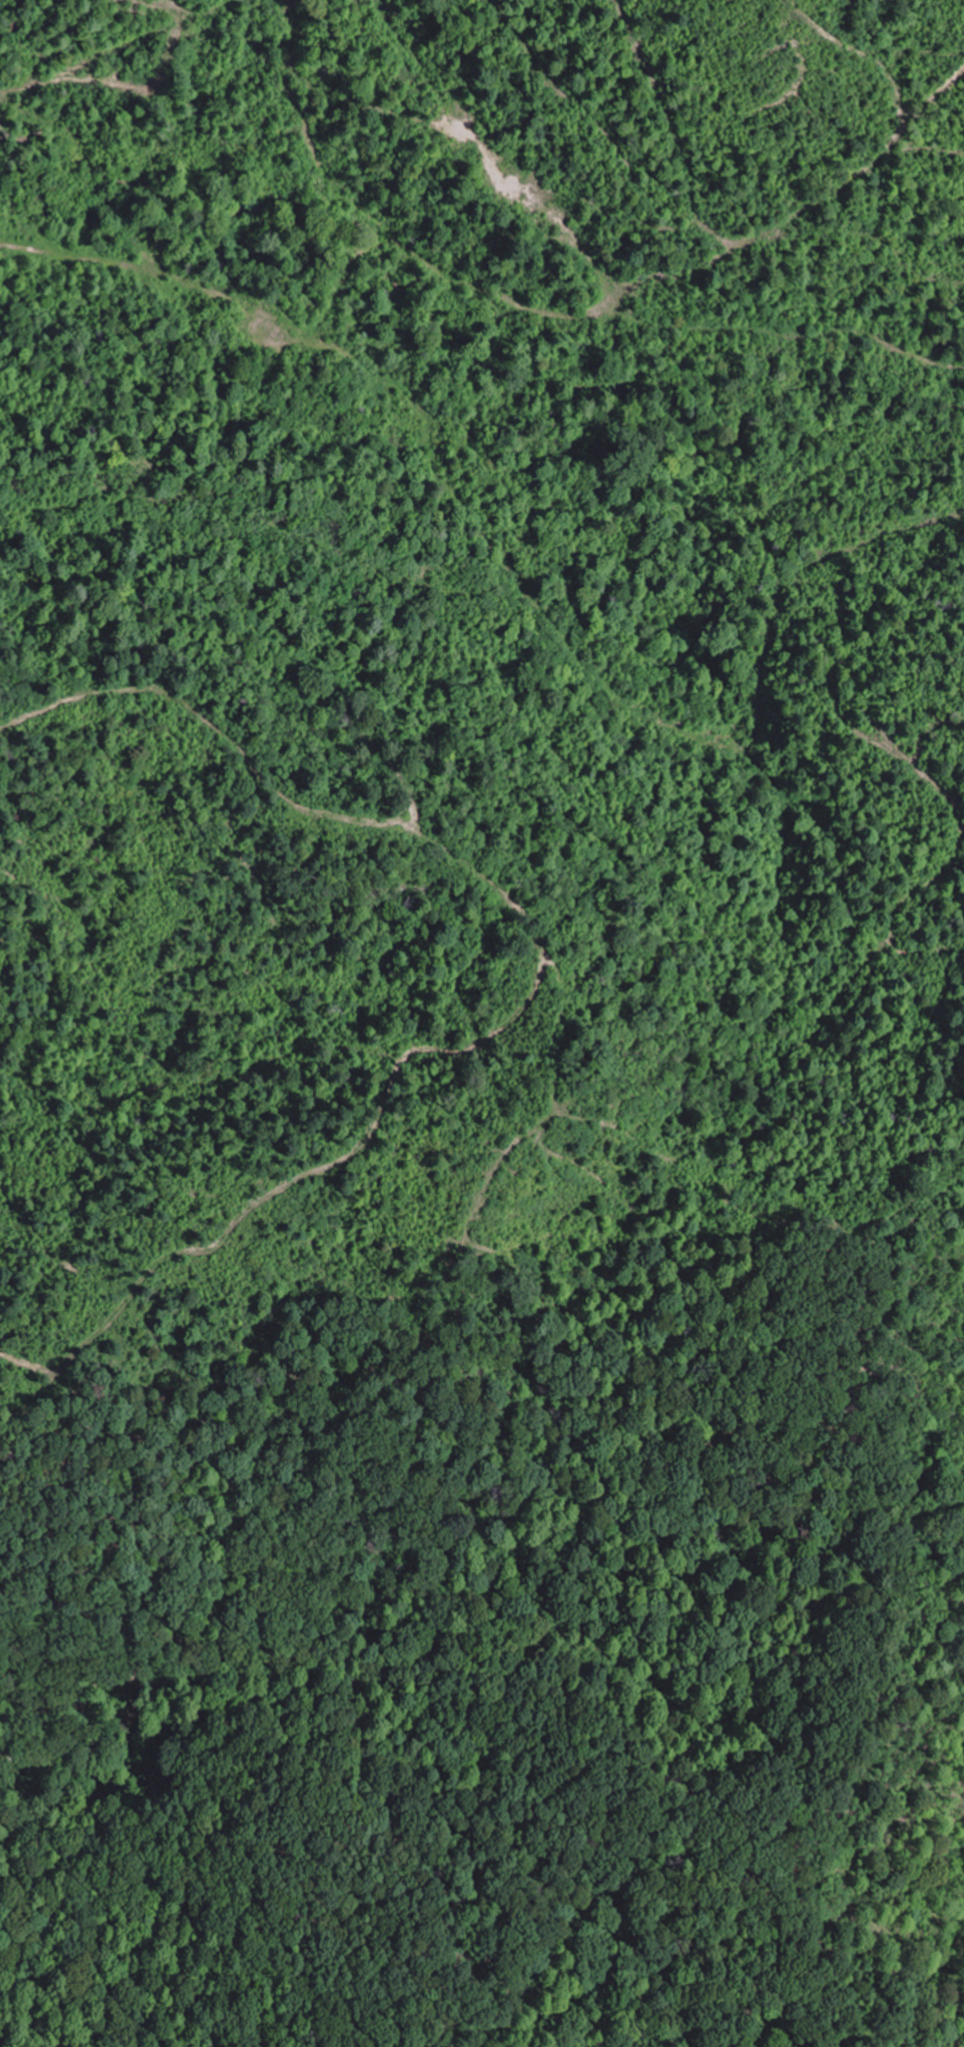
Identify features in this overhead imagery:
building: (2, 120)

